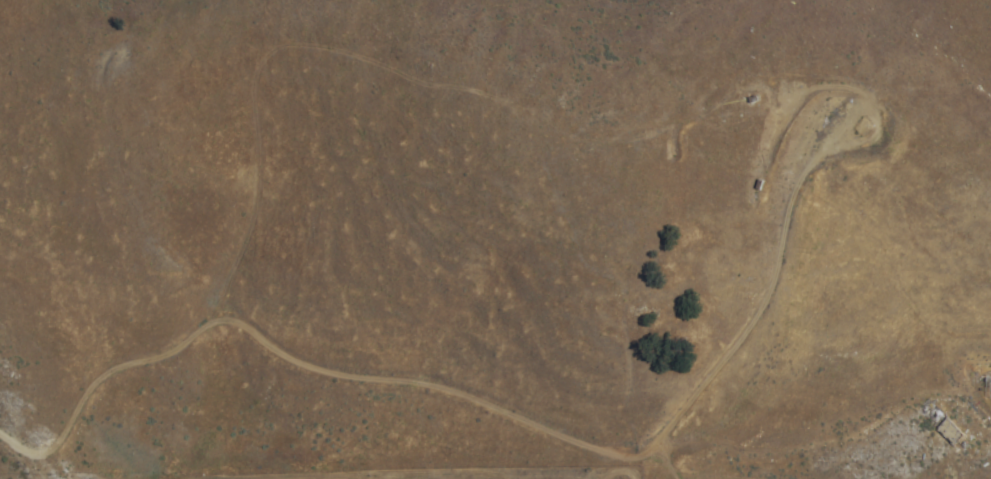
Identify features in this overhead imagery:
road: (313, 359)
building: (949, 432)

